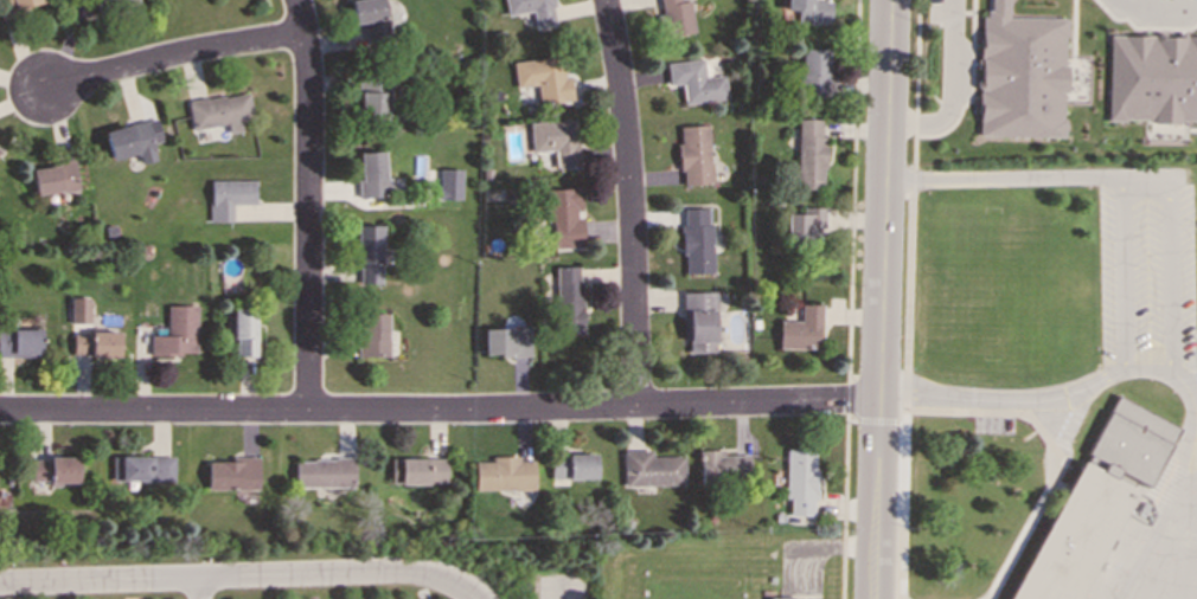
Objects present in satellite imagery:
building: (113, 4)
building: (15, 5)
road: (1154, 8)
building: (531, 9)
building: (809, 11)
building: (677, 17)
building: (370, 18)
road: (172, 57)
building: (812, 71)
building: (1020, 73)
building: (542, 78)
building: (1152, 78)
building: (694, 82)
road: (949, 86)
building: (372, 98)
building: (220, 111)
building: (134, 140)
building: (553, 140)
building: (0, 149)
building: (808, 153)
building: (693, 154)
building: (370, 173)
building: (55, 178)
building: (448, 183)
road: (852, 191)
building: (229, 197)
road: (629, 201)
road: (309, 204)
road: (910, 210)
building: (563, 215)
building: (804, 224)
building: (696, 241)
building: (369, 253)
road: (1121, 273)
road: (1169, 284)
building: (567, 298)
road: (882, 299)
building: (698, 321)
building: (801, 329)
building: (175, 331)
building: (244, 333)
building: (371, 334)
building: (505, 341)
building: (20, 342)
building: (95, 343)
road: (850, 399)
road: (440, 410)
road: (875, 420)
building: (572, 465)
building: (723, 465)
building: (147, 468)
building: (651, 468)
building: (56, 470)
building: (422, 470)
building: (324, 472)
building: (232, 474)
building: (504, 474)
building: (800, 481)
building: (1094, 502)
road: (844, 505)
road: (903, 505)
road: (244, 574)
road: (183, 587)
road: (72, 588)
road: (558, 590)

